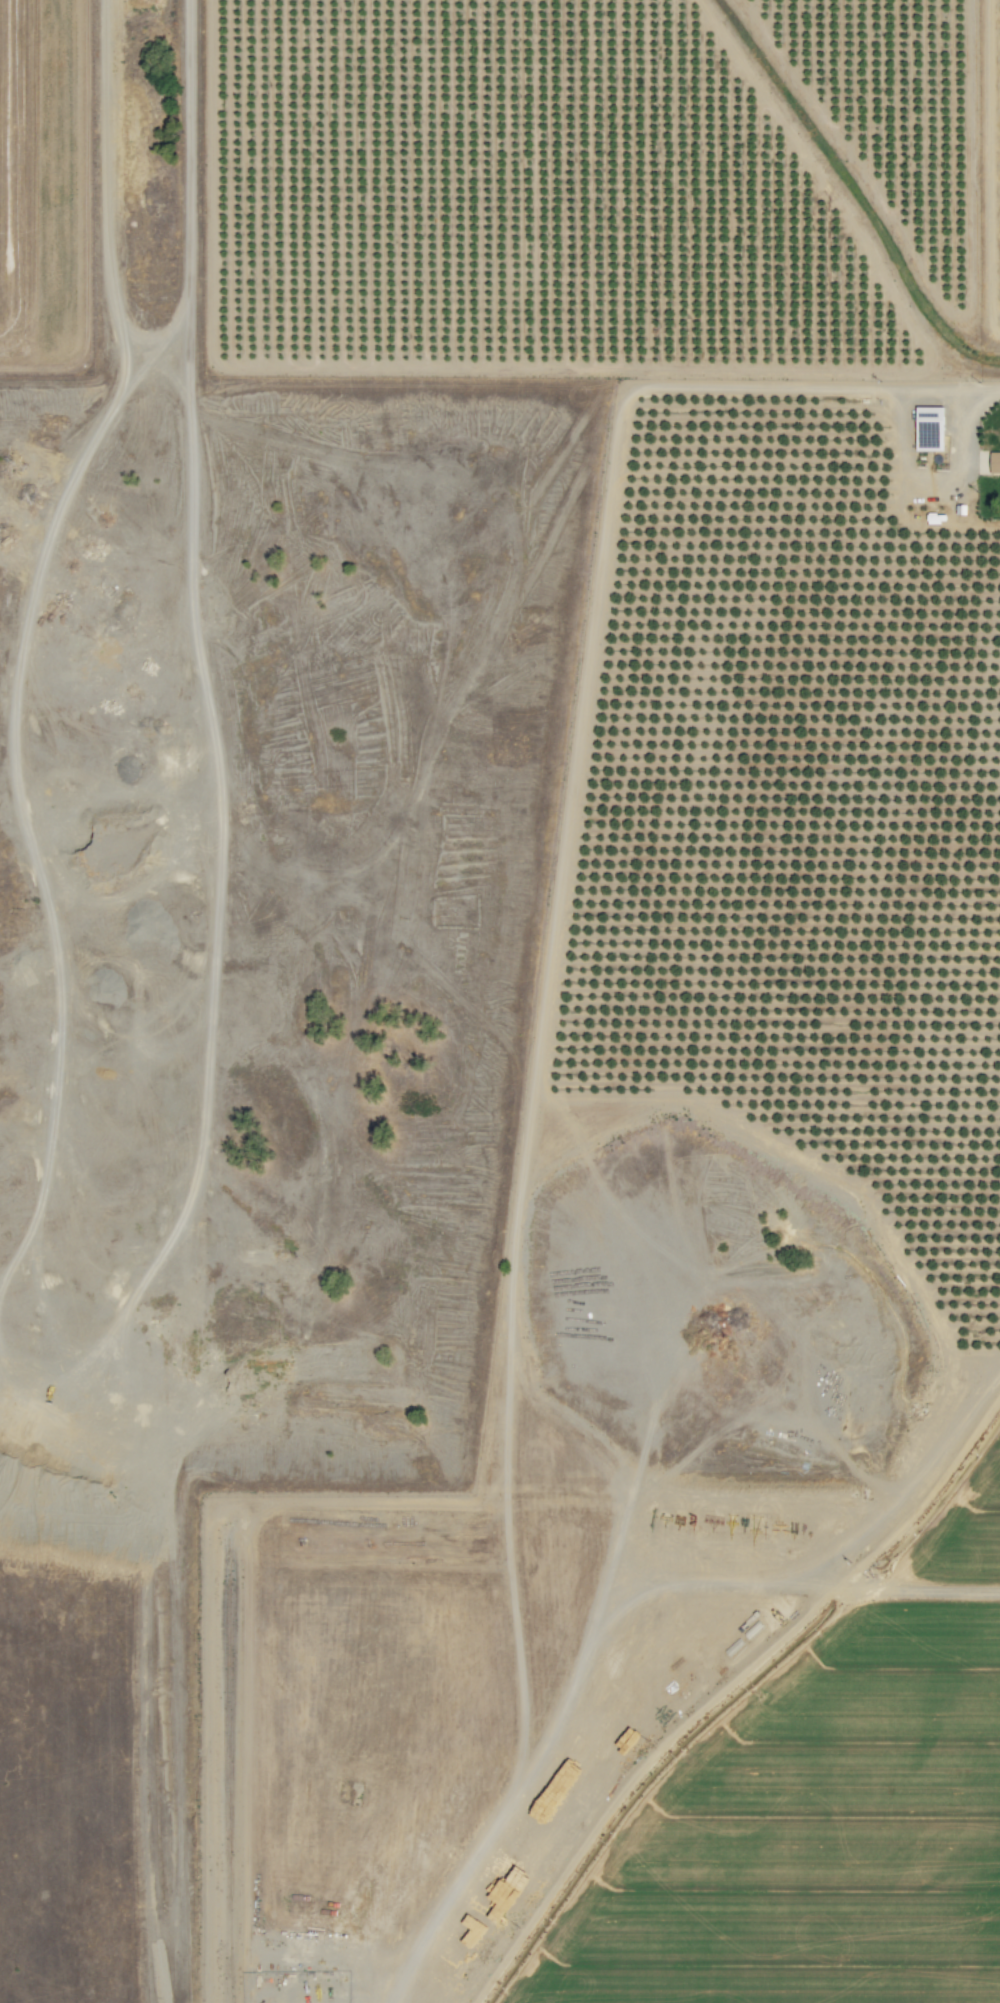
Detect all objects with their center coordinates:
crop: (989, 185)
building: (996, 462)
quarry: (246, 1031)
crop: (823, 1812)

